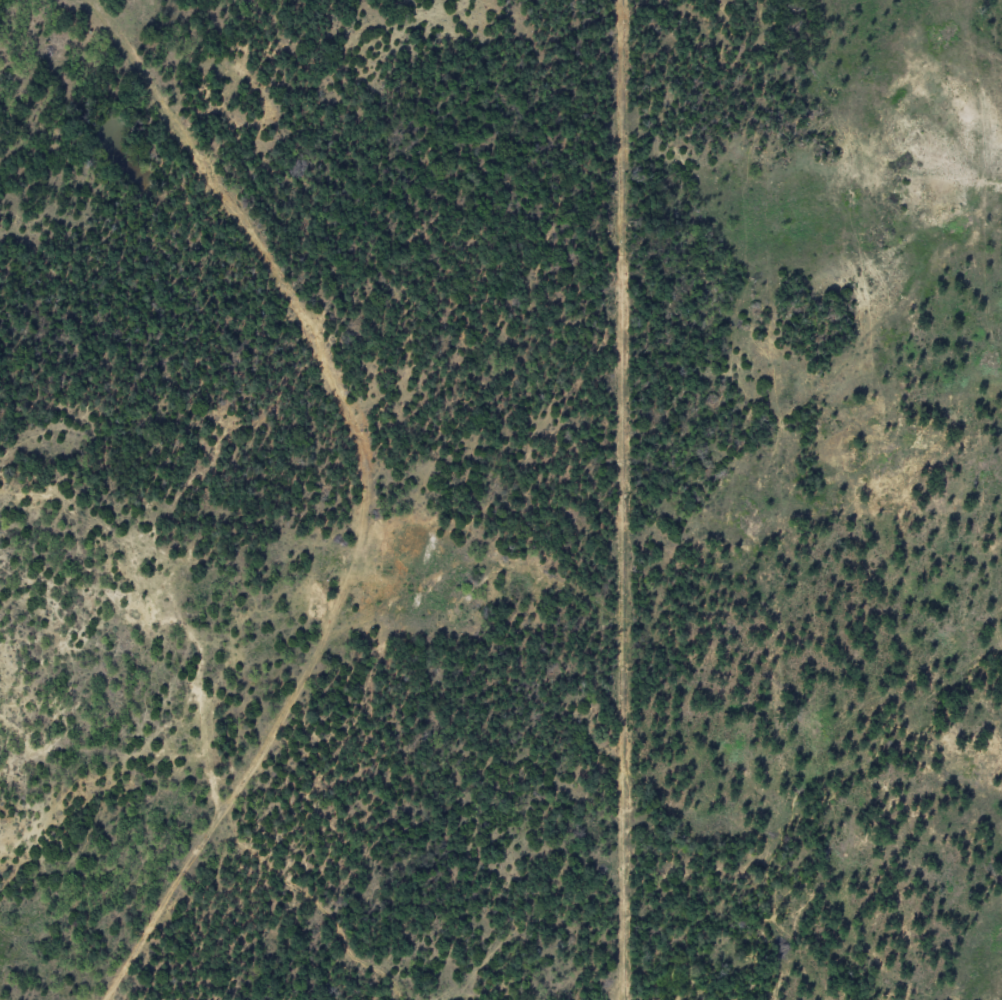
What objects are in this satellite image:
road: (336, 485)

